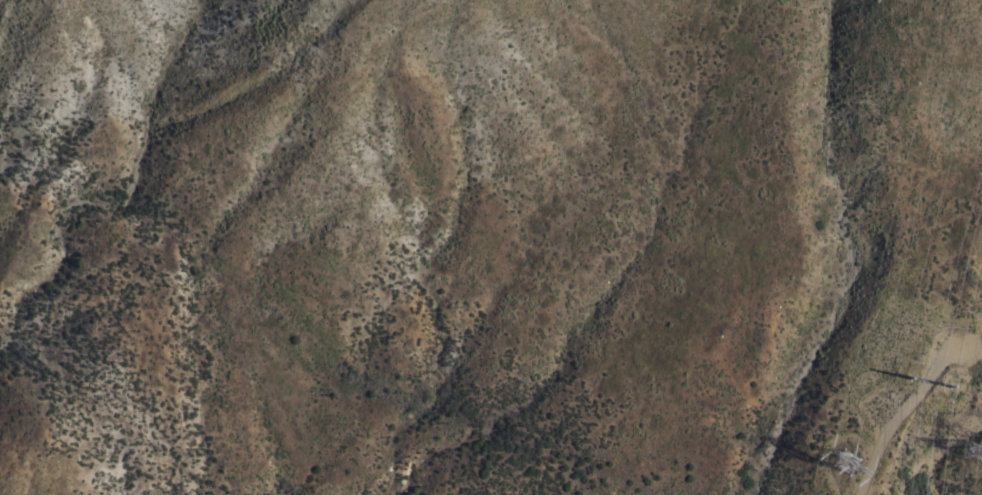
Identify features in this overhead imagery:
power tower: (929, 444)
power tower: (975, 449)
power tower: (848, 468)

